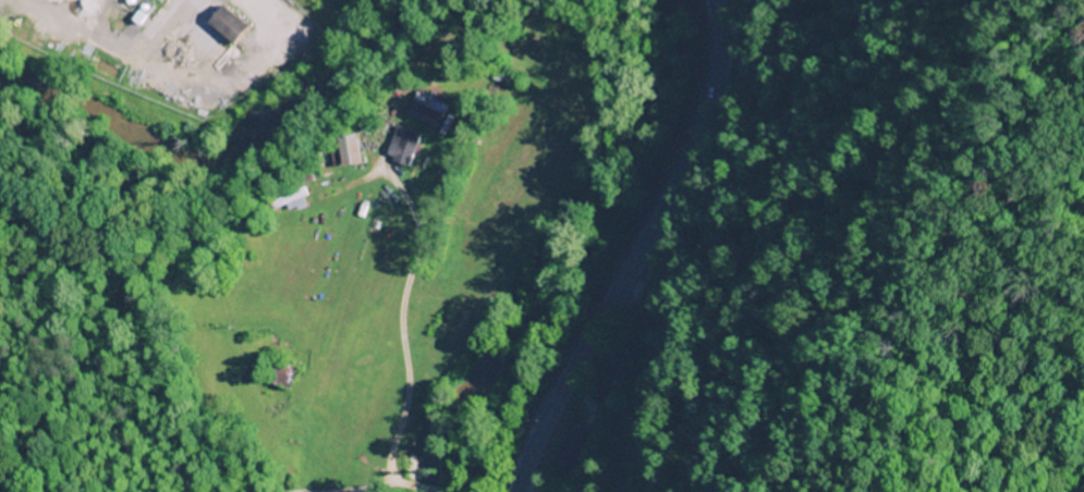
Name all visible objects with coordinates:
building: (234, 24)
building: (431, 106)
building: (406, 145)
building: (356, 149)
building: (294, 201)
road: (638, 250)
building: (620, 361)
building: (571, 448)

